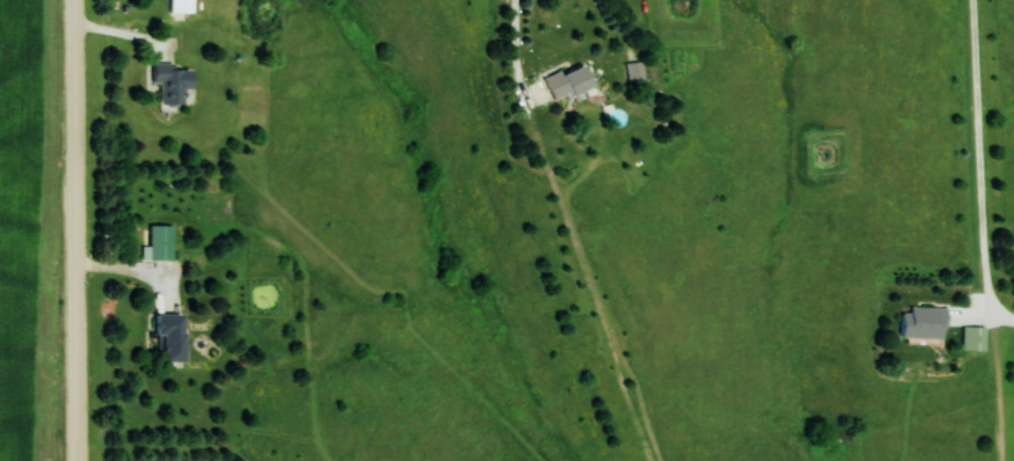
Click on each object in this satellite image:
building: (184, 9)
road: (132, 37)
road: (521, 51)
building: (637, 72)
building: (572, 83)
building: (175, 84)
road: (983, 164)
road: (80, 230)
building: (163, 243)
road: (137, 276)
building: (928, 322)
building: (176, 337)
building: (976, 337)

